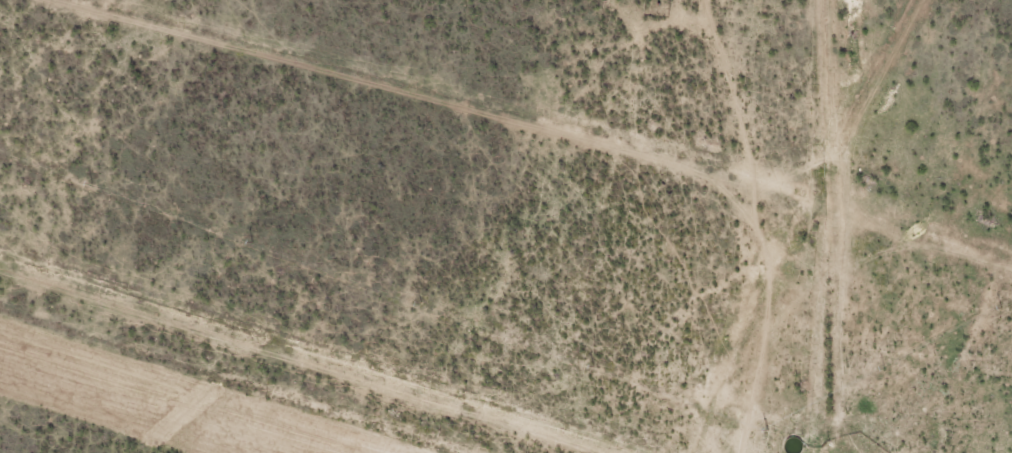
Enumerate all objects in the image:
road: (741, 89)

